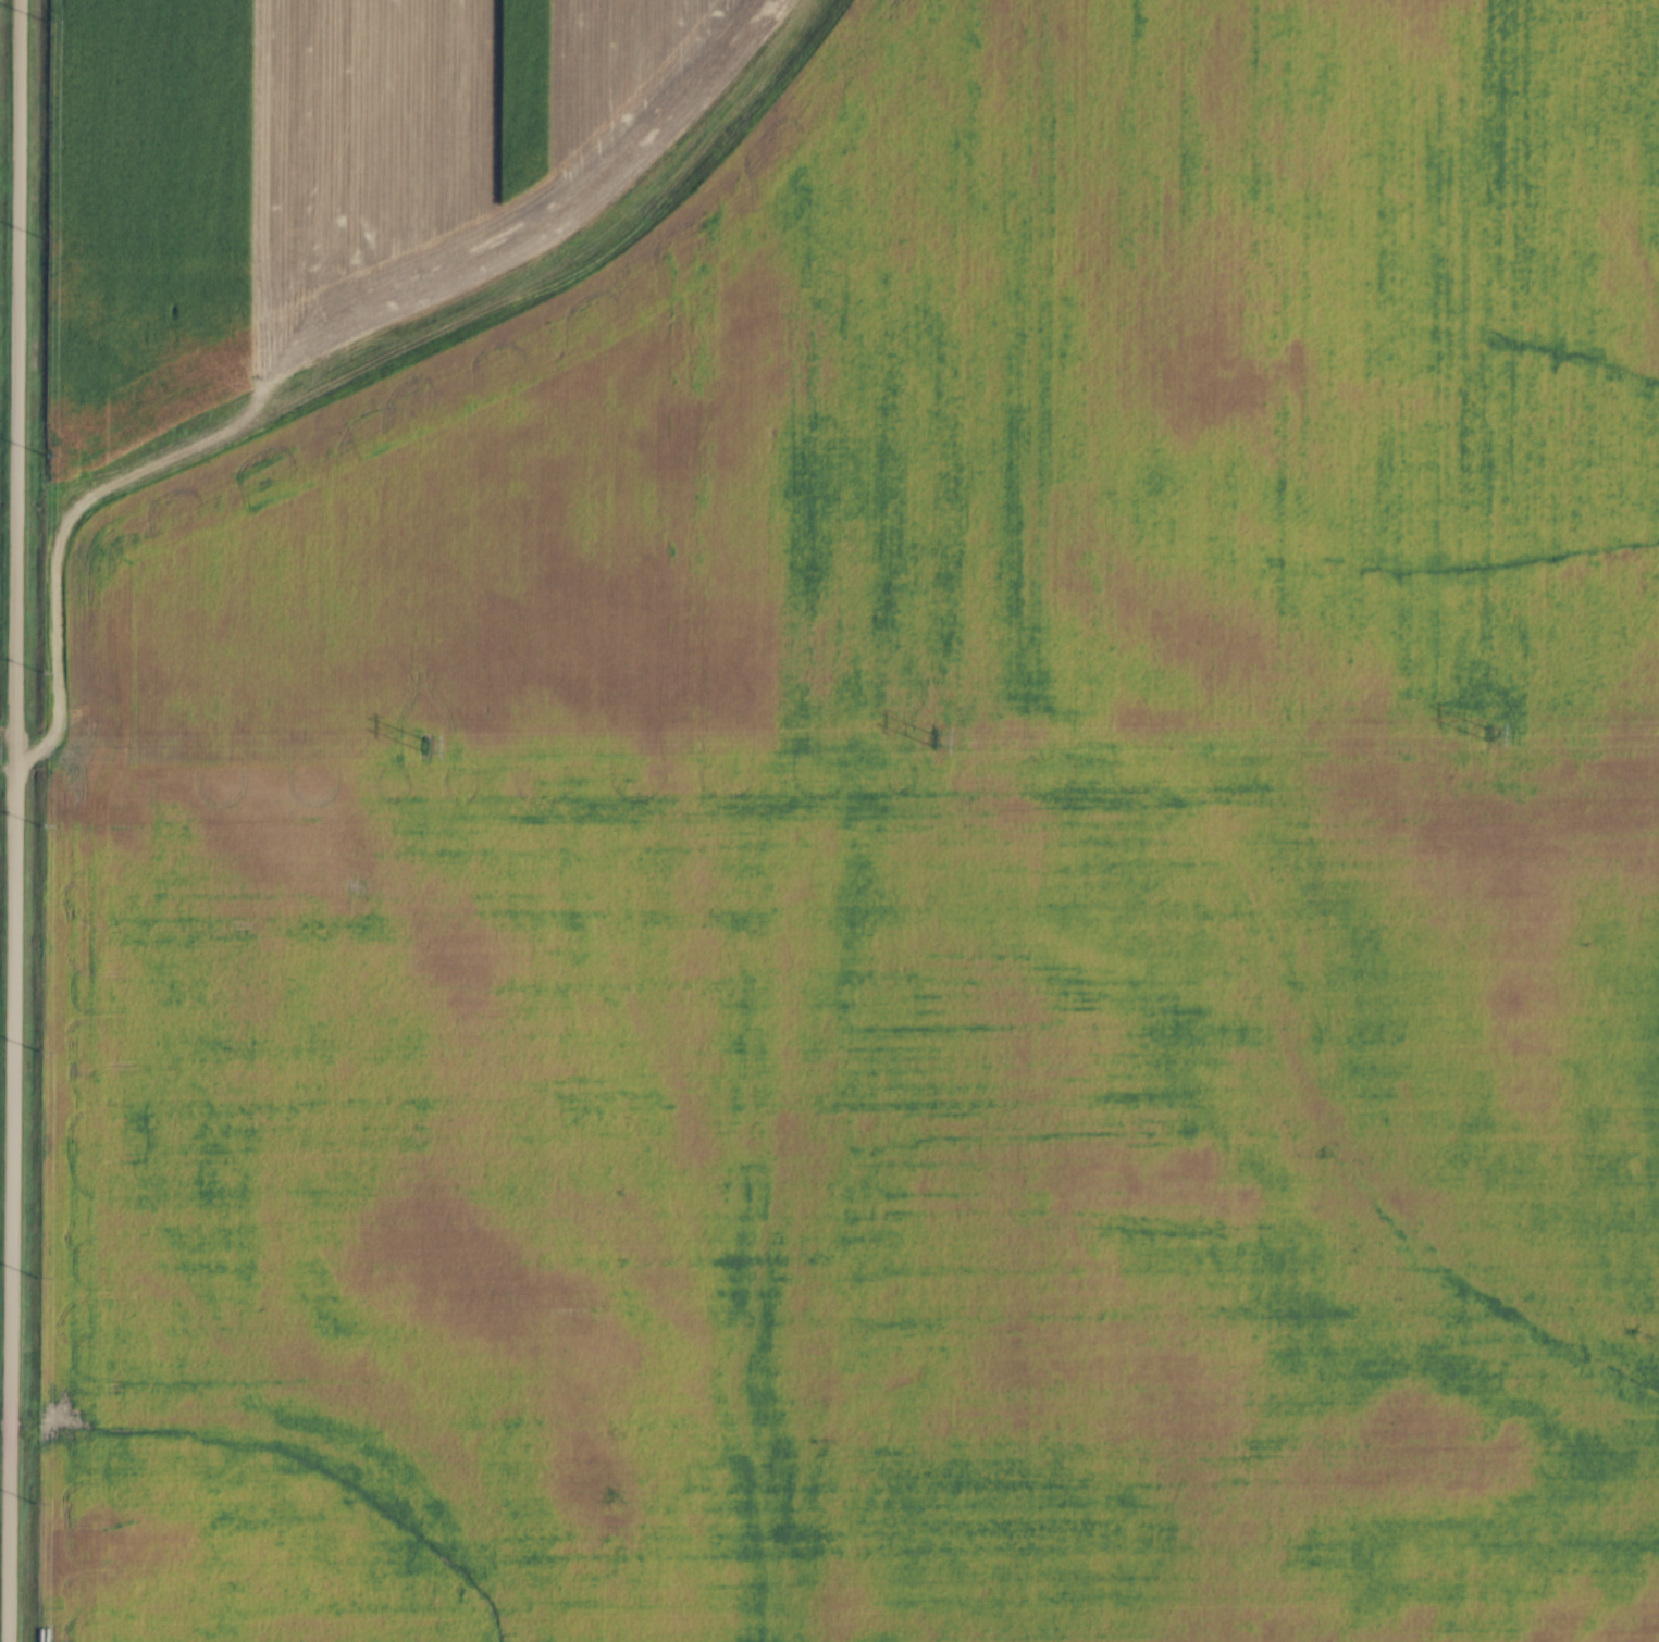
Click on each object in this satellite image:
building: (17, 265)
power tower: (1487, 736)
power tower: (931, 742)
power tower: (421, 746)
road: (12, 820)

